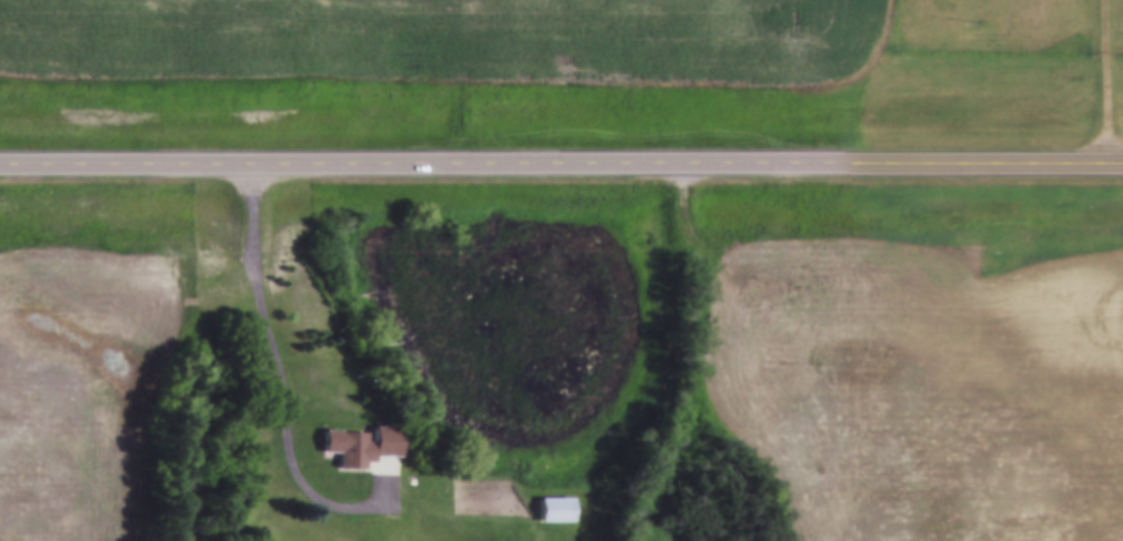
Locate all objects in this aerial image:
road: (1109, 81)
road: (561, 160)
road: (280, 389)
building: (365, 449)
building: (555, 511)

